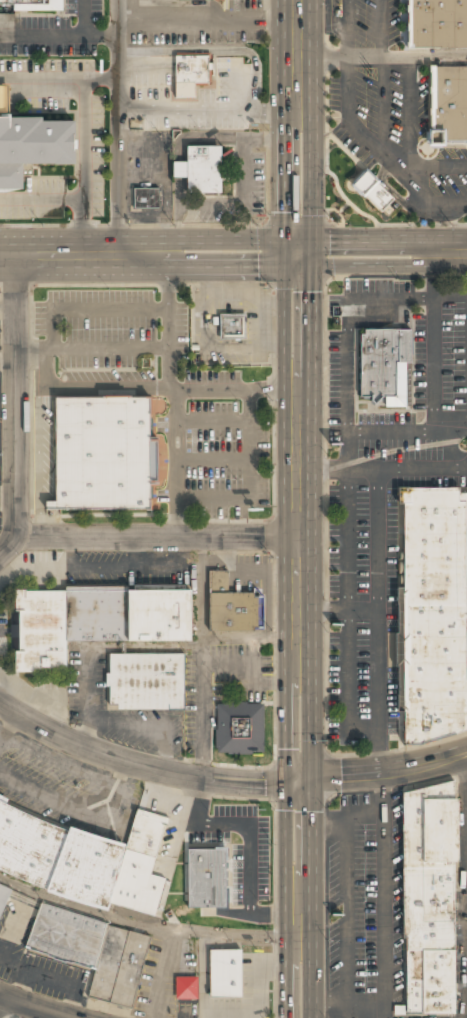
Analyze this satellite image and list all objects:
building: (29, 5)
road: (127, 10)
road: (83, 18)
road: (193, 21)
building: (434, 25)
parking lot: (51, 29)
road: (42, 35)
road: (359, 58)
building: (191, 74)
road: (382, 77)
road: (100, 78)
building: (3, 98)
road: (212, 106)
building: (446, 107)
road: (409, 120)
road: (84, 124)
road: (310, 126)
road: (284, 127)
road: (359, 132)
road: (115, 145)
building: (32, 147)
road: (438, 167)
building: (201, 170)
building: (373, 192)
road: (42, 199)
building: (147, 199)
traffic signals: (312, 253)
road: (233, 254)
traffic signals: (285, 254)
road: (349, 324)
building: (232, 327)
road: (92, 351)
building: (380, 359)
road: (435, 374)
road: (173, 391)
parking lot: (164, 396)
road: (286, 396)
road: (313, 396)
road: (15, 407)
road: (394, 430)
building: (108, 455)
road: (171, 465)
road: (386, 467)
parking lot: (382, 470)
road: (156, 537)
building: (231, 607)
road: (339, 608)
road: (352, 610)
building: (437, 616)
road: (380, 620)
building: (95, 622)
building: (145, 682)
building: (240, 728)
road: (297, 778)
road: (226, 780)
traffic signals: (297, 782)
road: (466, 793)
road: (341, 824)
building: (84, 860)
building: (207, 879)
road: (383, 895)
building: (4, 897)
building: (431, 900)
parking lot: (361, 904)
road: (345, 909)
building: (93, 953)
building: (224, 975)
building: (186, 988)
road: (345, 997)
road: (3, 1004)
road: (33, 1006)

